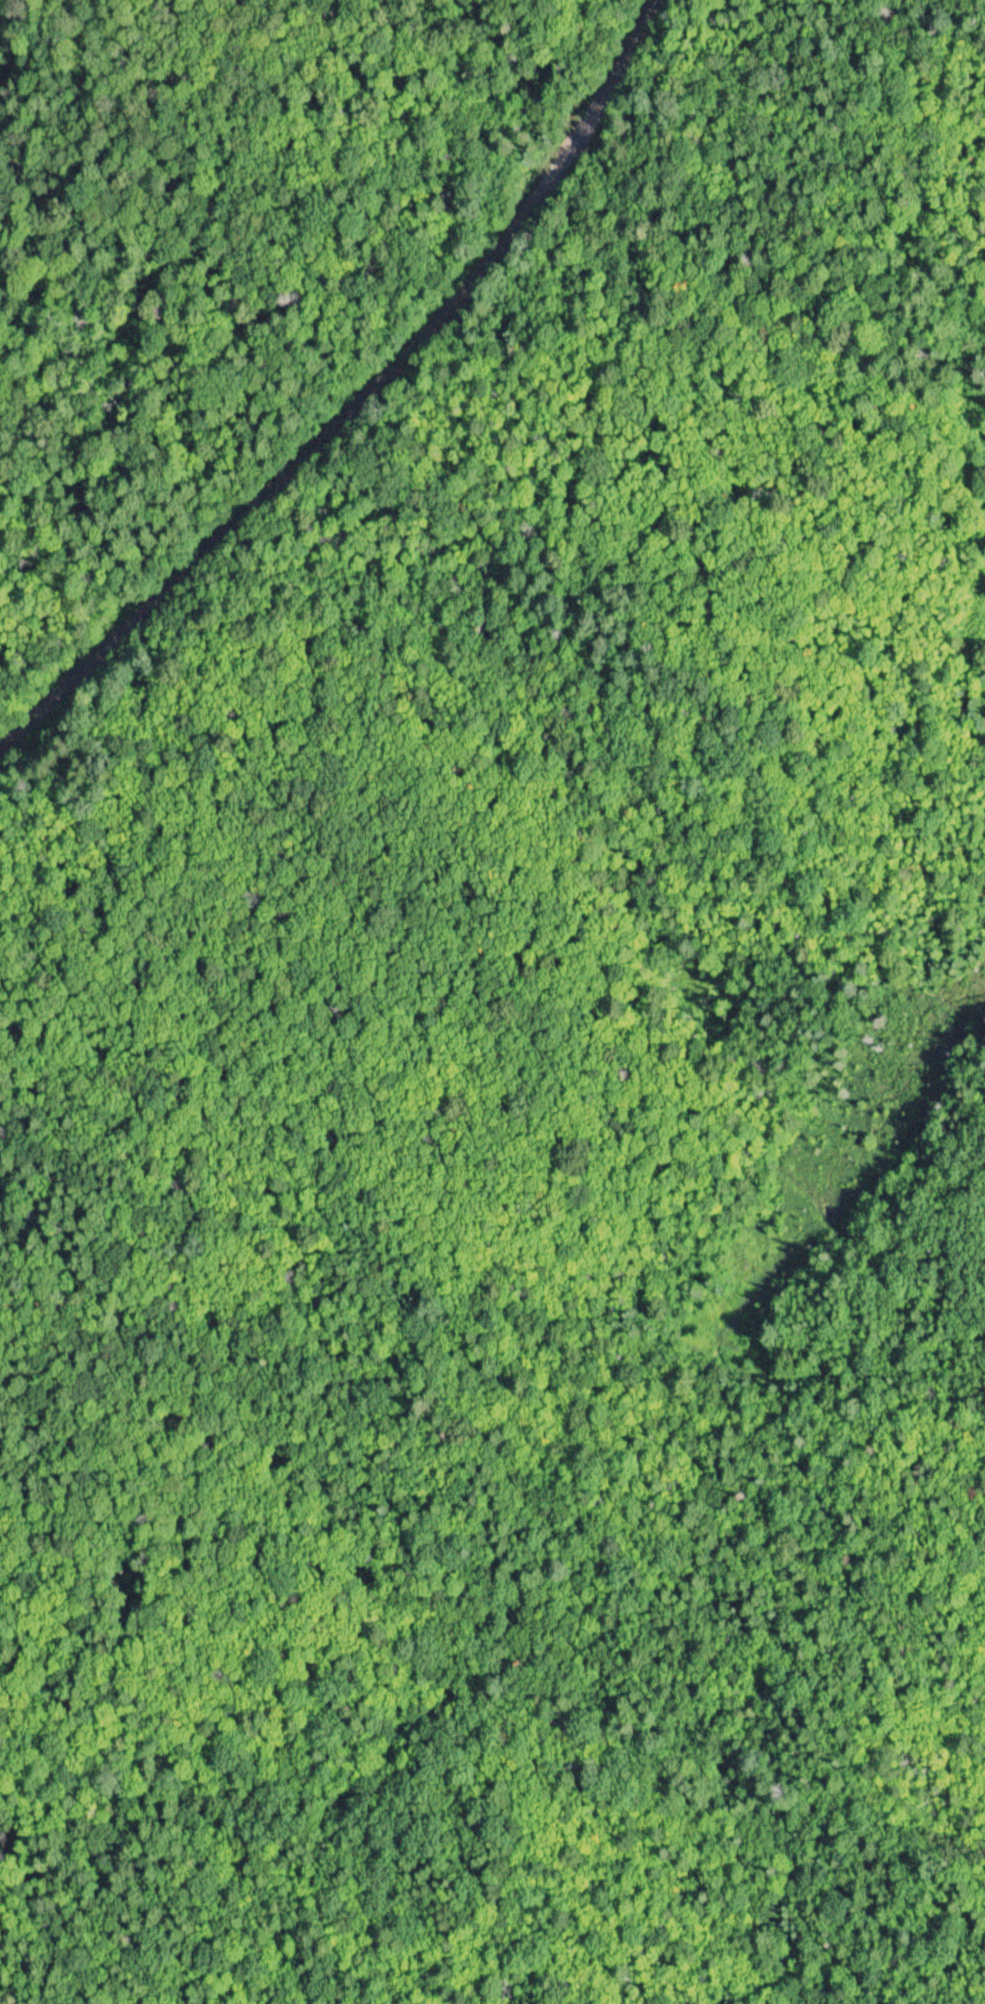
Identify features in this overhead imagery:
road: (355, 400)
road: (485, 1285)

